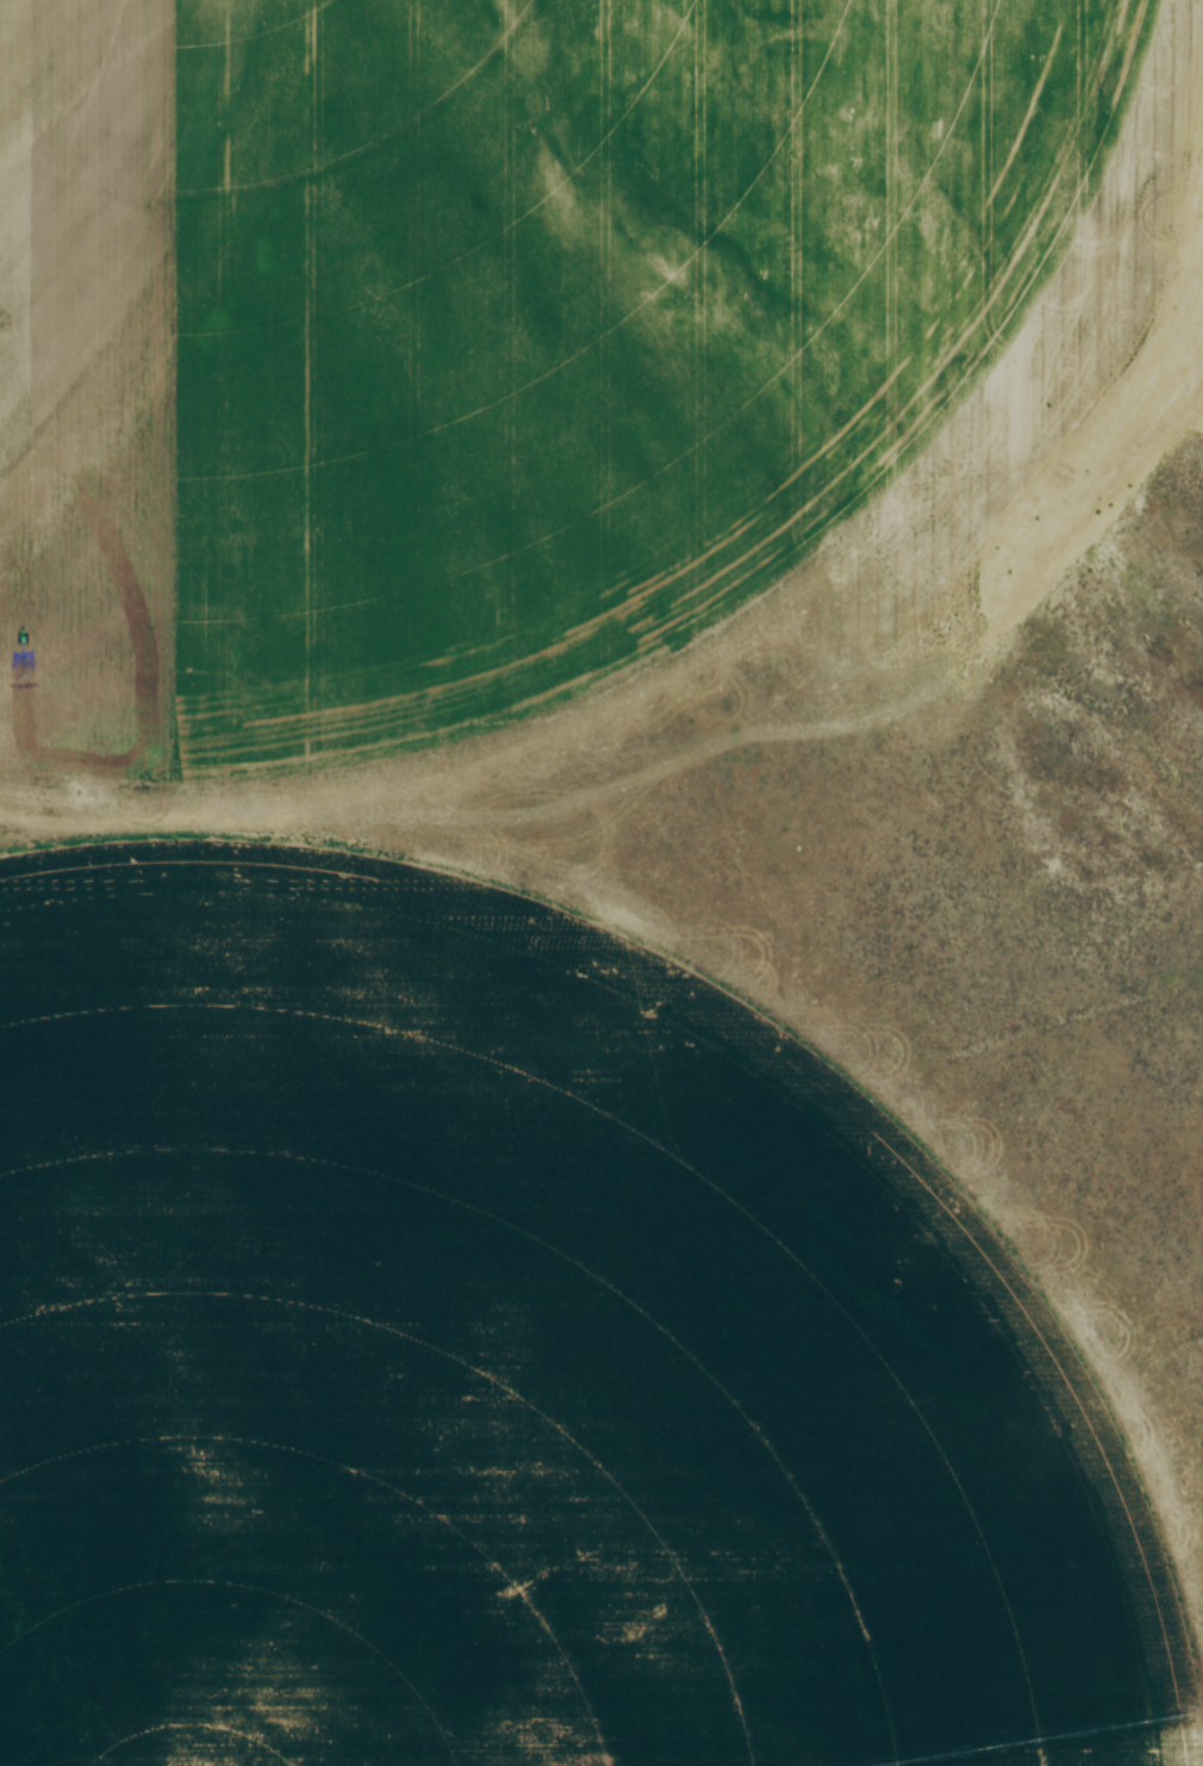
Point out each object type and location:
crop: (92, 162)
crop: (509, 1364)

